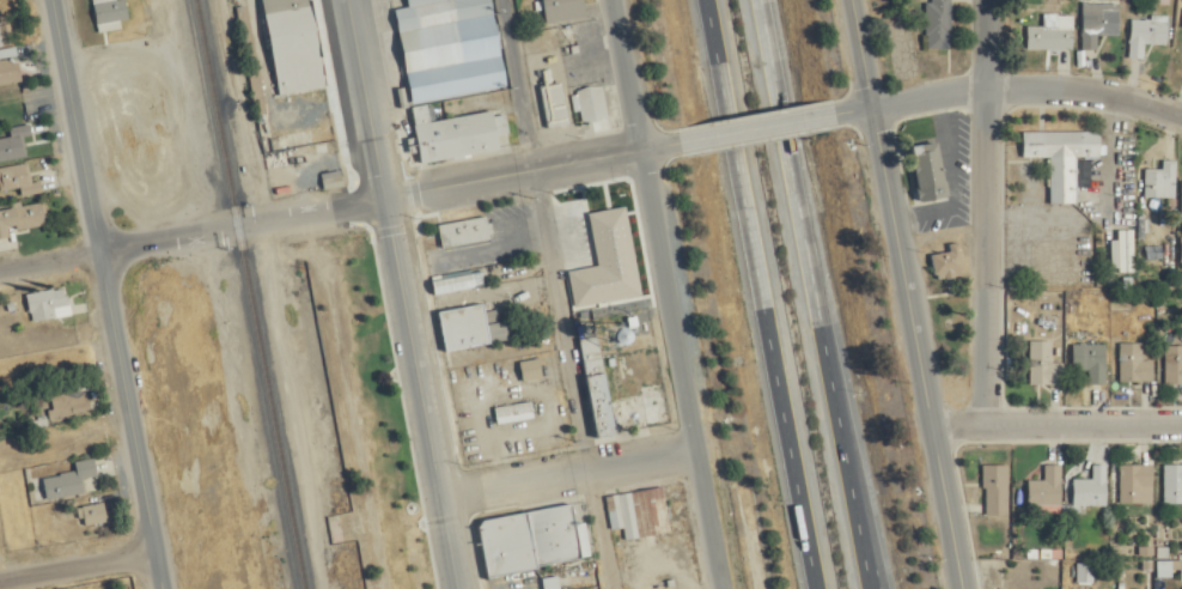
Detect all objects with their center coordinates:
building: (562, 10)
building: (112, 13)
building: (1099, 23)
building: (940, 24)
building: (434, 31)
building: (7, 32)
building: (1147, 34)
building: (1052, 35)
building: (293, 45)
road: (864, 51)
building: (252, 61)
building: (11, 72)
road: (1029, 79)
road: (368, 99)
building: (593, 104)
building: (556, 105)
road: (857, 108)
road: (982, 109)
road: (762, 127)
building: (323, 133)
building: (458, 136)
building: (16, 144)
building: (1062, 158)
road: (538, 169)
building: (927, 171)
building: (19, 180)
building: (1160, 180)
building: (282, 182)
building: (24, 218)
road: (942, 226)
building: (467, 232)
building: (593, 233)
road: (196, 236)
building: (1125, 250)
road: (903, 259)
building: (950, 262)
building: (451, 285)
road: (110, 292)
railway: (256, 293)
road: (559, 293)
road: (668, 293)
road: (762, 294)
road: (817, 294)
building: (51, 304)
road: (981, 316)
building: (467, 326)
water tower: (621, 333)
building: (1091, 362)
building: (1046, 364)
building: (1135, 364)
building: (1174, 365)
building: (531, 370)
building: (602, 389)
road: (428, 393)
building: (72, 401)
building: (514, 413)
road: (1053, 415)
road: (568, 466)
building: (71, 481)
building: (1174, 484)
building: (1137, 485)
building: (1047, 490)
building: (1091, 490)
building: (997, 491)
road: (942, 502)
building: (642, 514)
building: (93, 515)
building: (532, 540)
road: (75, 554)
road: (875, 564)

